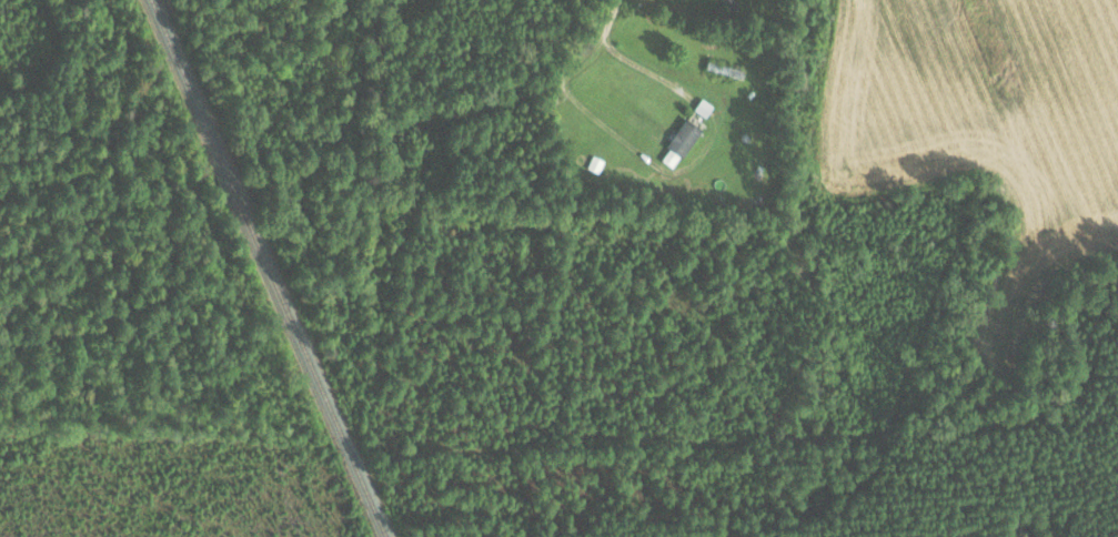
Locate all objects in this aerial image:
building: (732, 3)
road: (573, 70)
railway: (269, 267)

